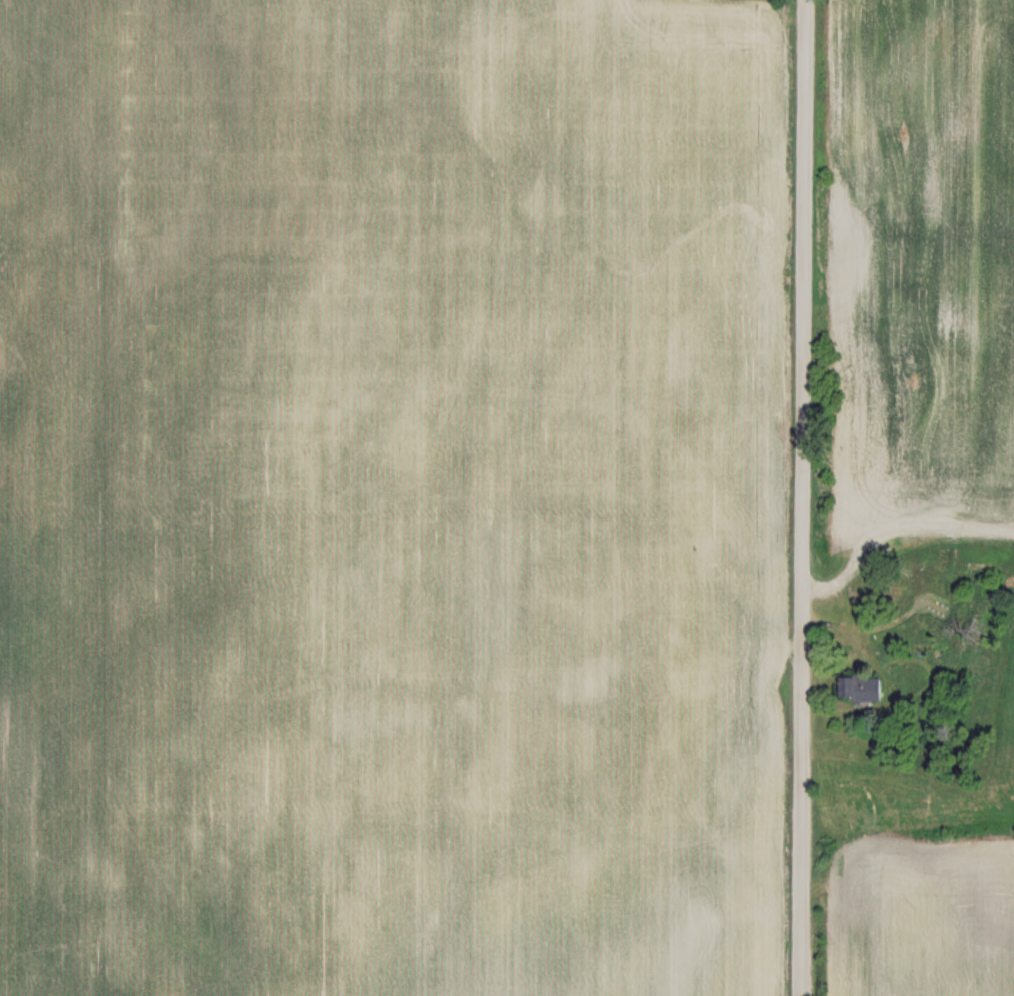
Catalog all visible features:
road: (805, 498)
building: (854, 688)

